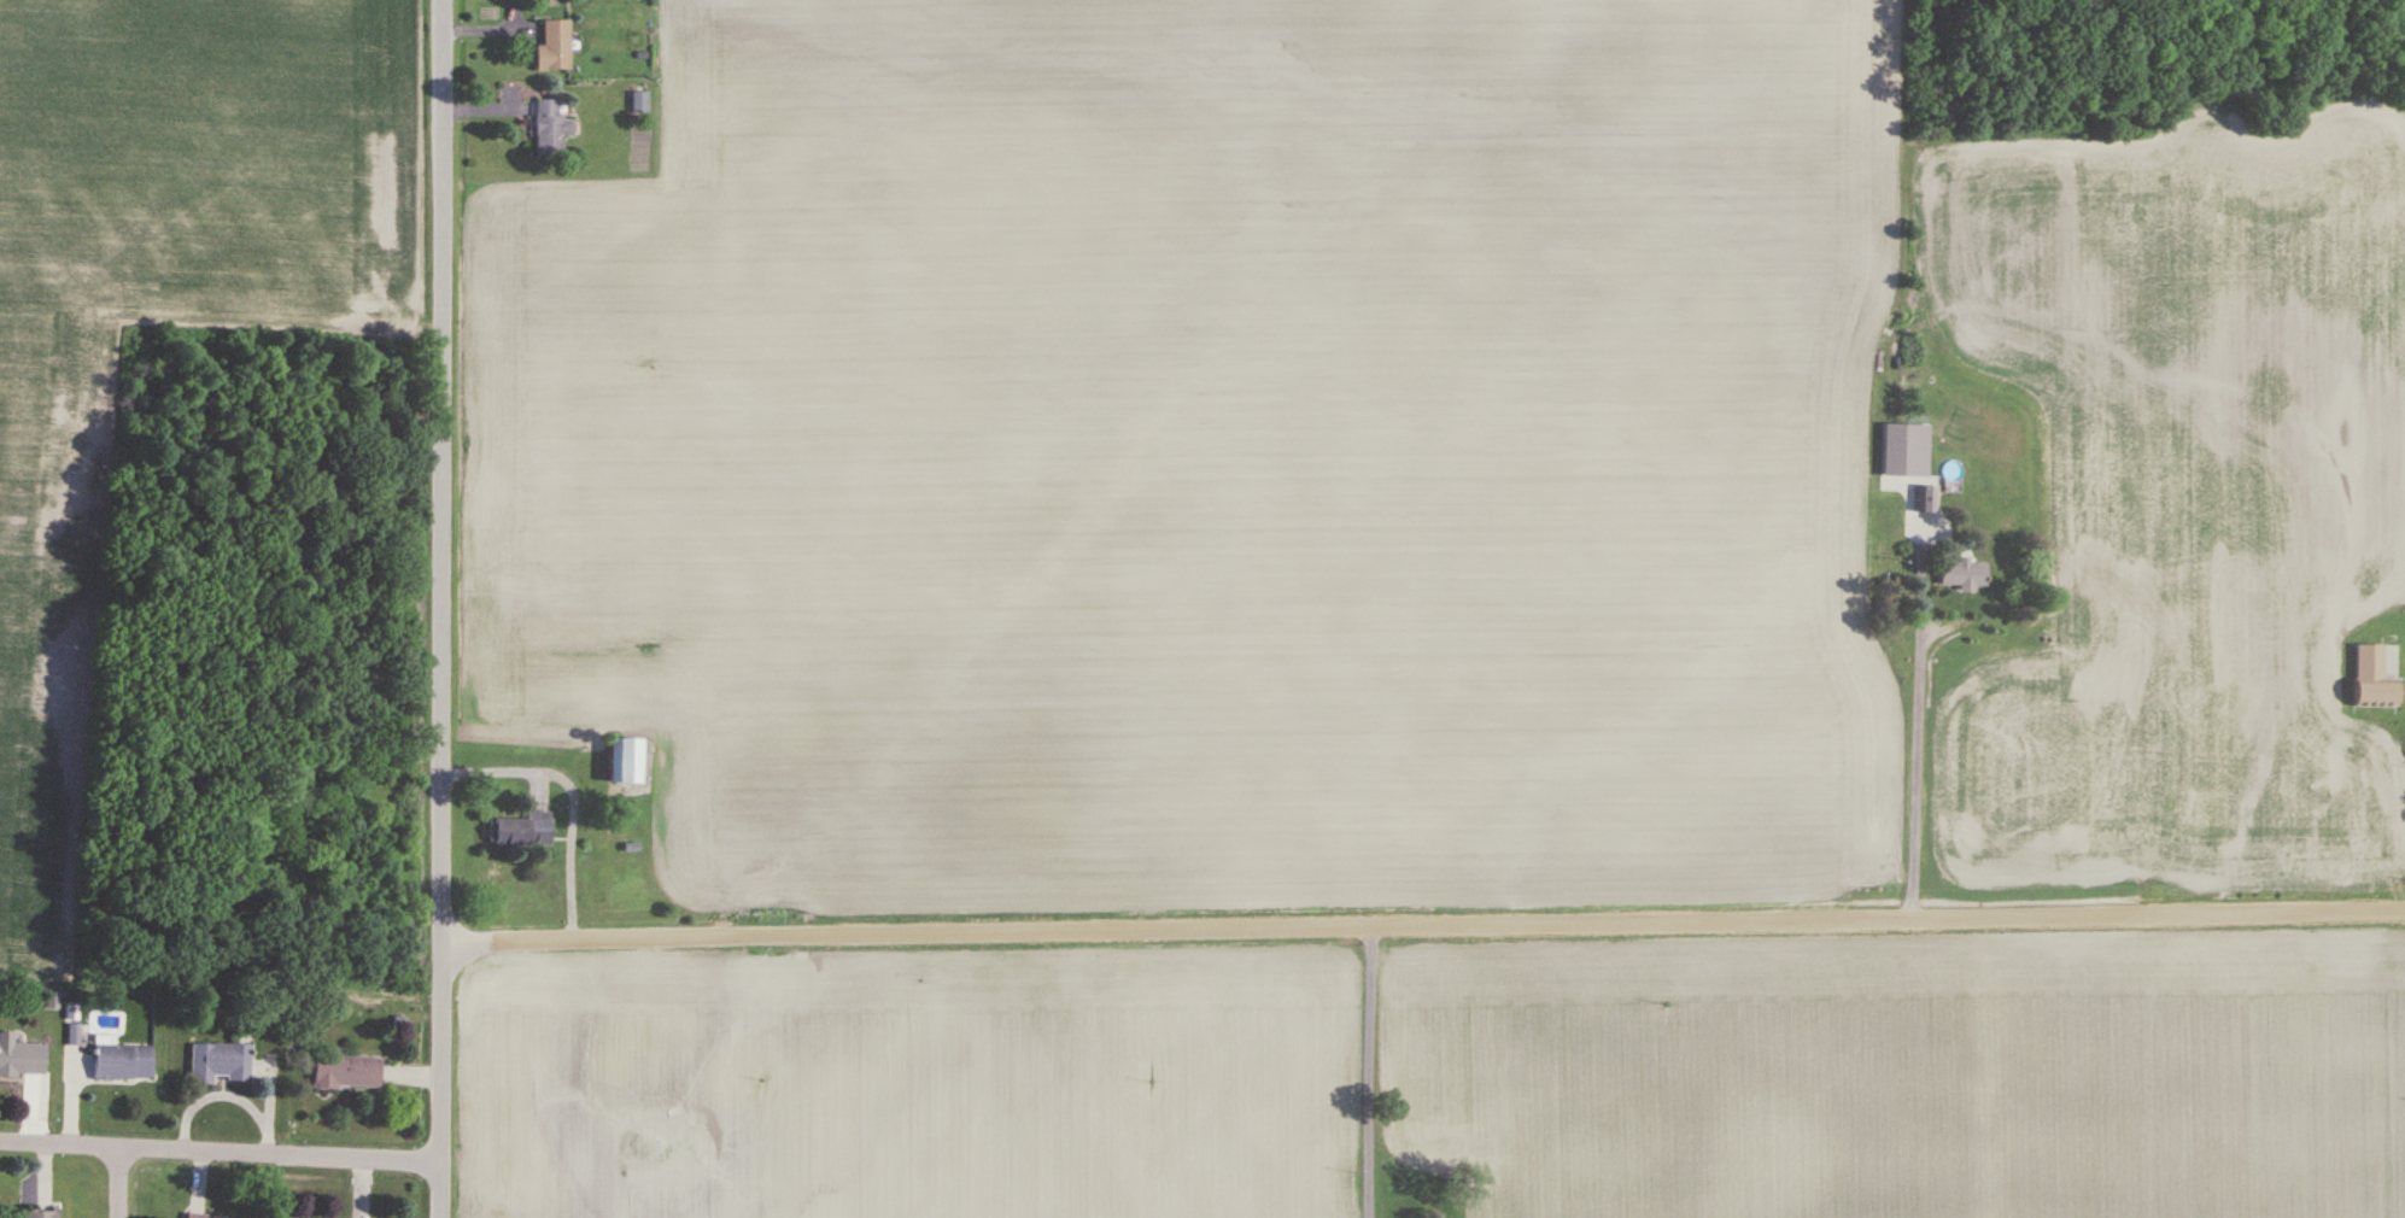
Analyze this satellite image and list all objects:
building: (554, 46)
building: (639, 101)
building: (550, 127)
building: (1926, 493)
building: (1964, 573)
road: (443, 608)
building: (2374, 679)
building: (625, 760)
road: (1908, 781)
road: (572, 795)
building: (523, 830)
road: (1423, 924)
building: (21, 1058)
building: (122, 1062)
building: (218, 1064)
road: (1362, 1071)
building: (346, 1073)
road: (220, 1150)
road: (121, 1182)
building: (39, 1214)
building: (201, 1216)

